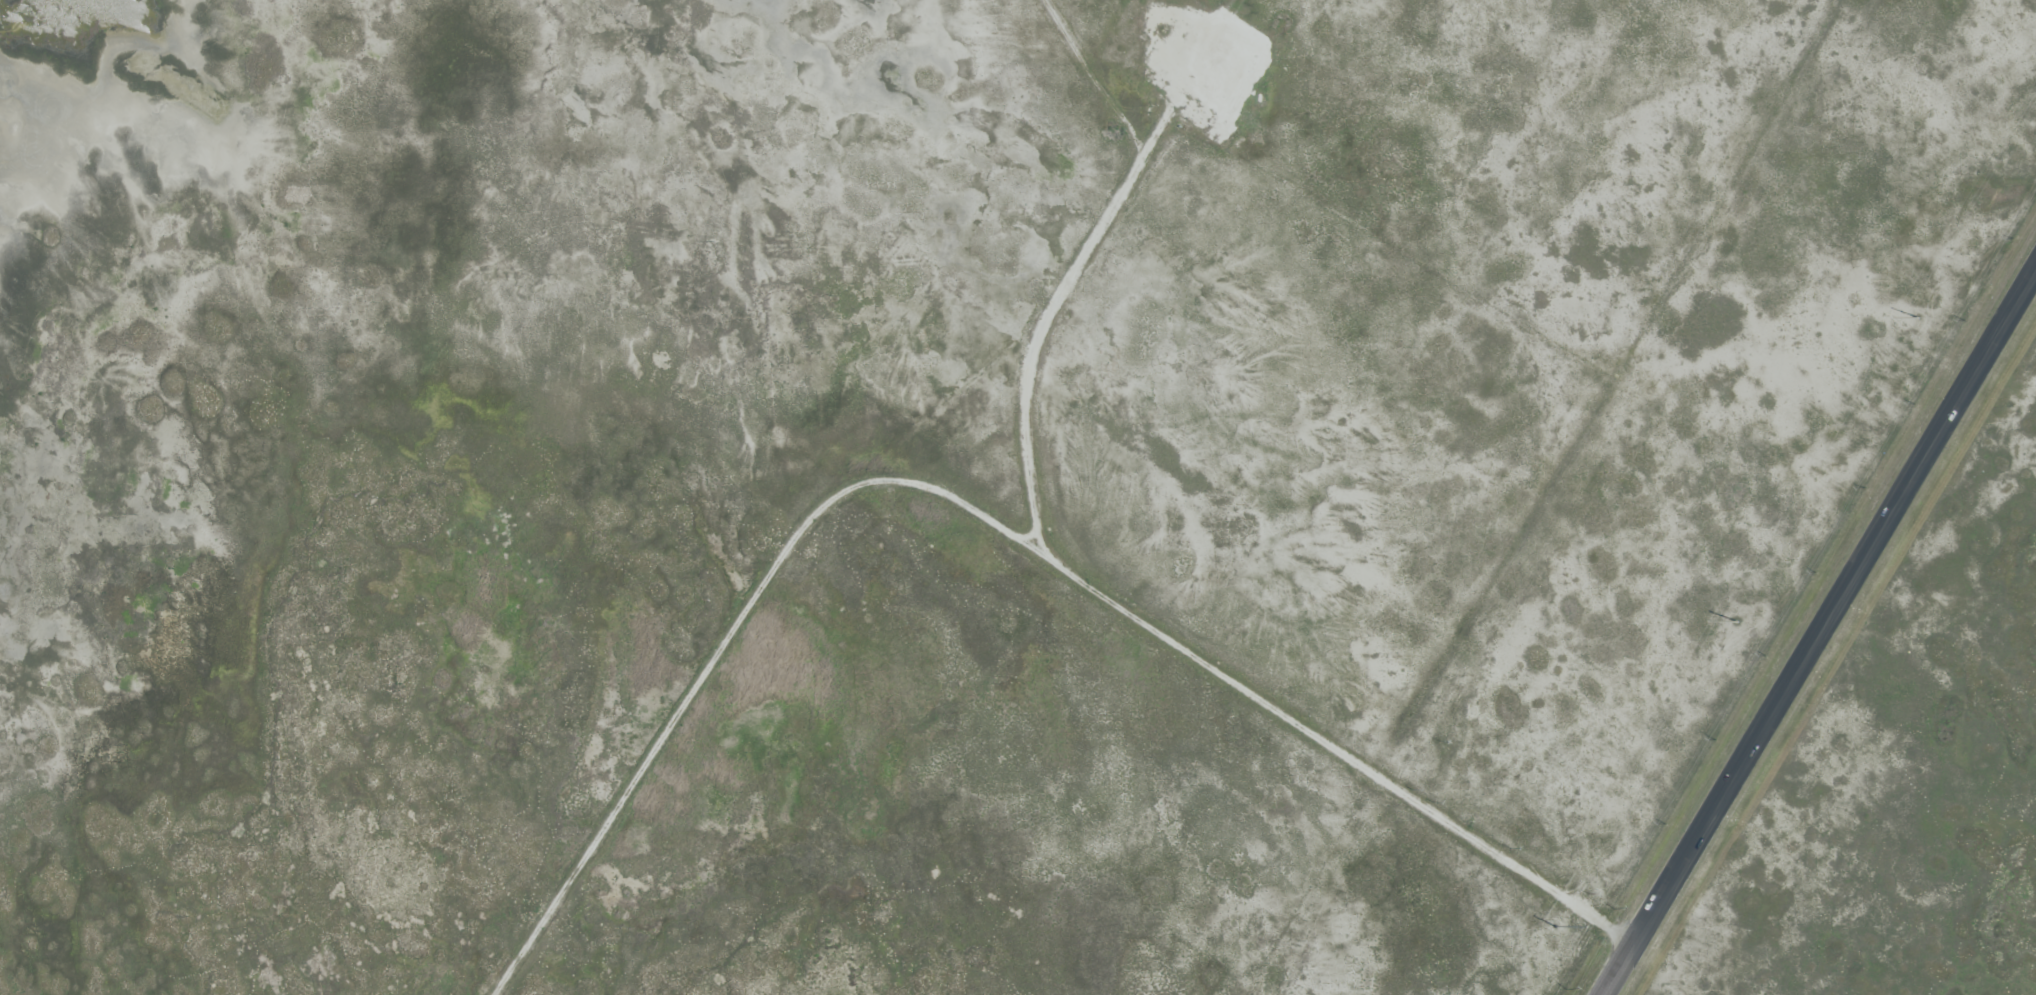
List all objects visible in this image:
power tower: (1916, 320)
park: (930, 473)
power tower: (1736, 624)
road: (1822, 636)
park: (1905, 776)
road: (1542, 885)
power tower: (1557, 928)

